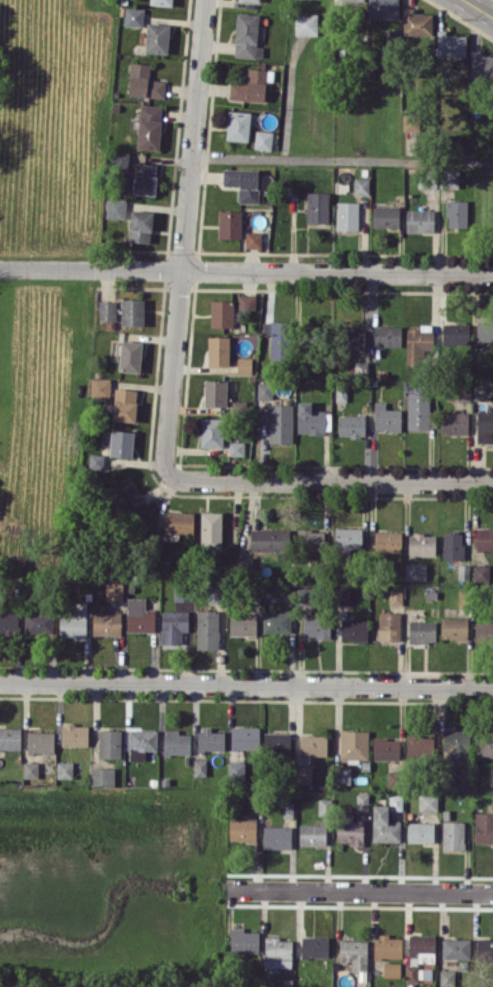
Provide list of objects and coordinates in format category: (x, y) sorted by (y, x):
building: (250, 0)
building: (352, 0)
building: (161, 2)
road: (473, 2)
road: (489, 6)
road: (478, 8)
building: (383, 9)
building: (133, 16)
building: (416, 22)
building: (306, 23)
building: (247, 36)
building: (157, 38)
building: (450, 44)
building: (481, 66)
building: (143, 81)
building: (251, 85)
building: (410, 121)
building: (238, 125)
building: (149, 126)
building: (263, 139)
road: (342, 159)
building: (120, 160)
building: (144, 178)
building: (449, 178)
building: (243, 183)
building: (361, 185)
building: (116, 207)
building: (317, 207)
building: (456, 213)
building: (347, 215)
building: (385, 216)
building: (419, 220)
building: (229, 223)
building: (140, 226)
road: (184, 239)
building: (253, 239)
road: (246, 269)
building: (246, 301)
building: (107, 310)
building: (132, 312)
building: (221, 313)
building: (484, 330)
building: (455, 333)
building: (387, 336)
building: (277, 339)
building: (355, 341)
building: (418, 342)
building: (218, 350)
building: (130, 356)
building: (244, 365)
building: (100, 387)
building: (264, 390)
building: (481, 391)
building: (465, 392)
building: (215, 393)
building: (124, 404)
building: (418, 411)
building: (386, 417)
building: (312, 419)
building: (454, 422)
building: (280, 423)
building: (351, 425)
building: (484, 426)
building: (211, 432)
building: (121, 443)
building: (236, 448)
building: (95, 461)
road: (332, 480)
building: (121, 492)
building: (178, 522)
building: (211, 530)
building: (348, 537)
building: (268, 539)
building: (310, 539)
building: (484, 539)
building: (388, 541)
building: (422, 545)
building: (453, 546)
building: (415, 571)
building: (463, 571)
building: (480, 573)
building: (114, 591)
building: (183, 592)
building: (216, 594)
building: (271, 594)
building: (306, 596)
building: (343, 596)
building: (395, 596)
building: (139, 616)
building: (39, 621)
building: (74, 622)
building: (277, 622)
building: (9, 623)
building: (106, 623)
building: (243, 625)
building: (173, 626)
building: (316, 626)
building: (389, 626)
building: (453, 627)
building: (207, 629)
building: (353, 630)
building: (483, 630)
building: (422, 631)
road: (246, 683)
building: (74, 735)
building: (245, 737)
building: (10, 738)
building: (210, 740)
building: (40, 742)
building: (176, 742)
building: (110, 743)
building: (141, 743)
building: (277, 743)
building: (354, 744)
building: (313, 745)
building: (457, 745)
building: (419, 746)
building: (484, 746)
building: (200, 767)
building: (236, 767)
building: (30, 769)
building: (64, 769)
building: (303, 774)
building: (102, 776)
building: (491, 777)
building: (362, 801)
building: (395, 801)
building: (428, 802)
building: (492, 804)
building: (324, 806)
building: (288, 809)
building: (384, 825)
building: (484, 827)
building: (349, 829)
building: (242, 830)
building: (420, 831)
building: (312, 834)
building: (453, 834)
building: (277, 837)
road: (362, 889)
building: (244, 940)
building: (421, 943)
building: (314, 946)
building: (387, 946)
building: (456, 948)
building: (484, 948)
building: (278, 952)
building: (354, 953)
building: (391, 969)
building: (411, 973)
building: (447, 977)

